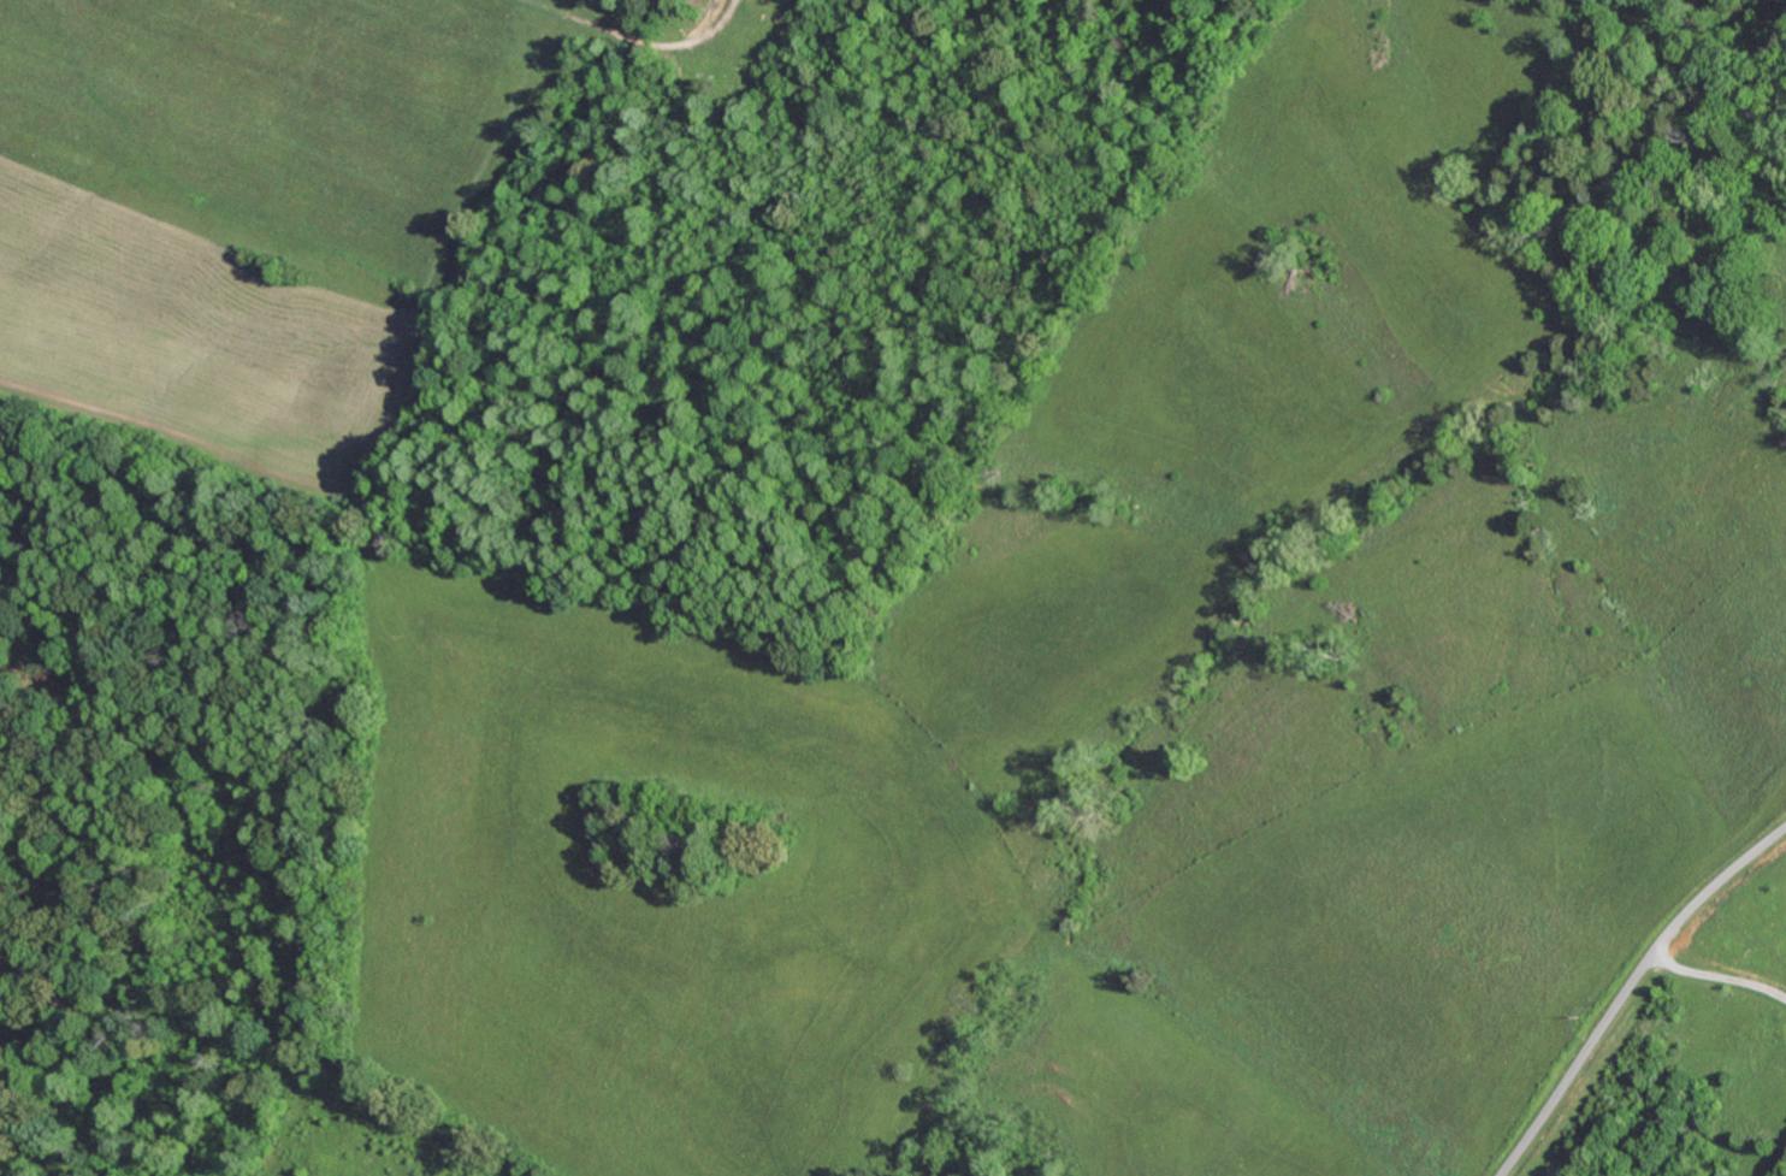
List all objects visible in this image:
road: (1630, 991)

